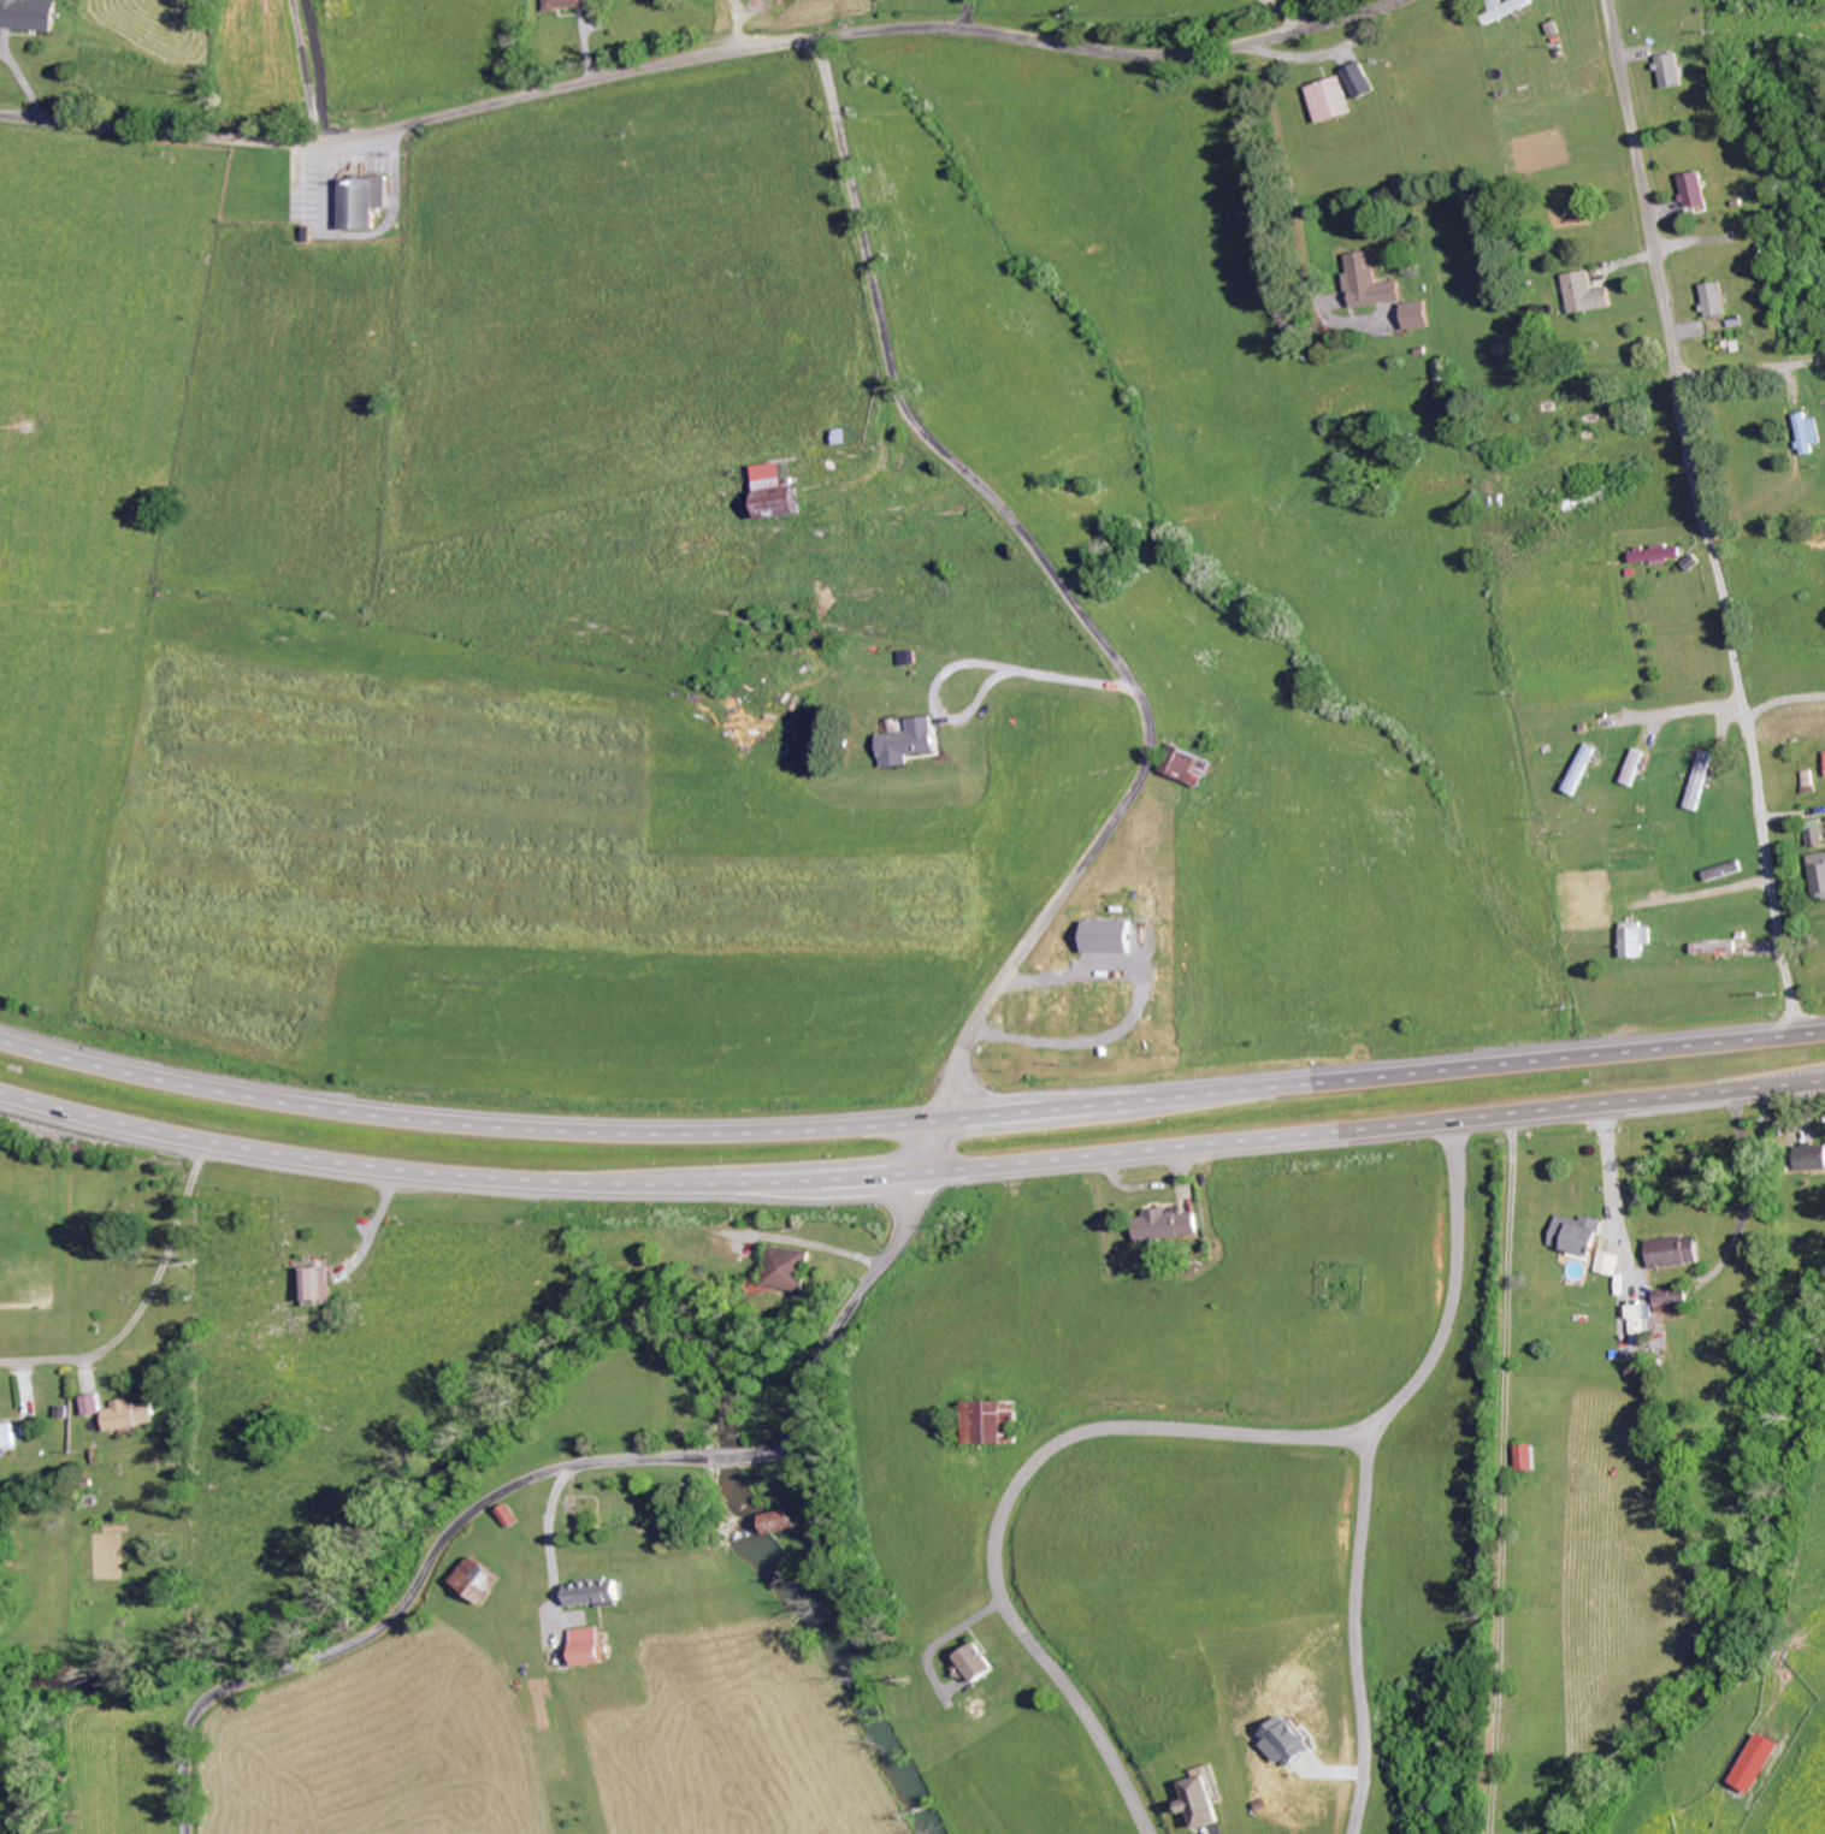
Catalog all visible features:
road: (1284, 11)
road: (725, 28)
road: (703, 60)
road: (305, 71)
road: (1288, 174)
road: (1703, 517)
road: (1011, 668)
road: (1779, 700)
road: (1667, 715)
road: (949, 1084)
road: (910, 1124)
road: (910, 1173)
road: (49, 1361)
road: (1369, 1465)
road: (1502, 1473)
road: (1014, 1492)
building: (773, 1521)
dam: (745, 1540)

